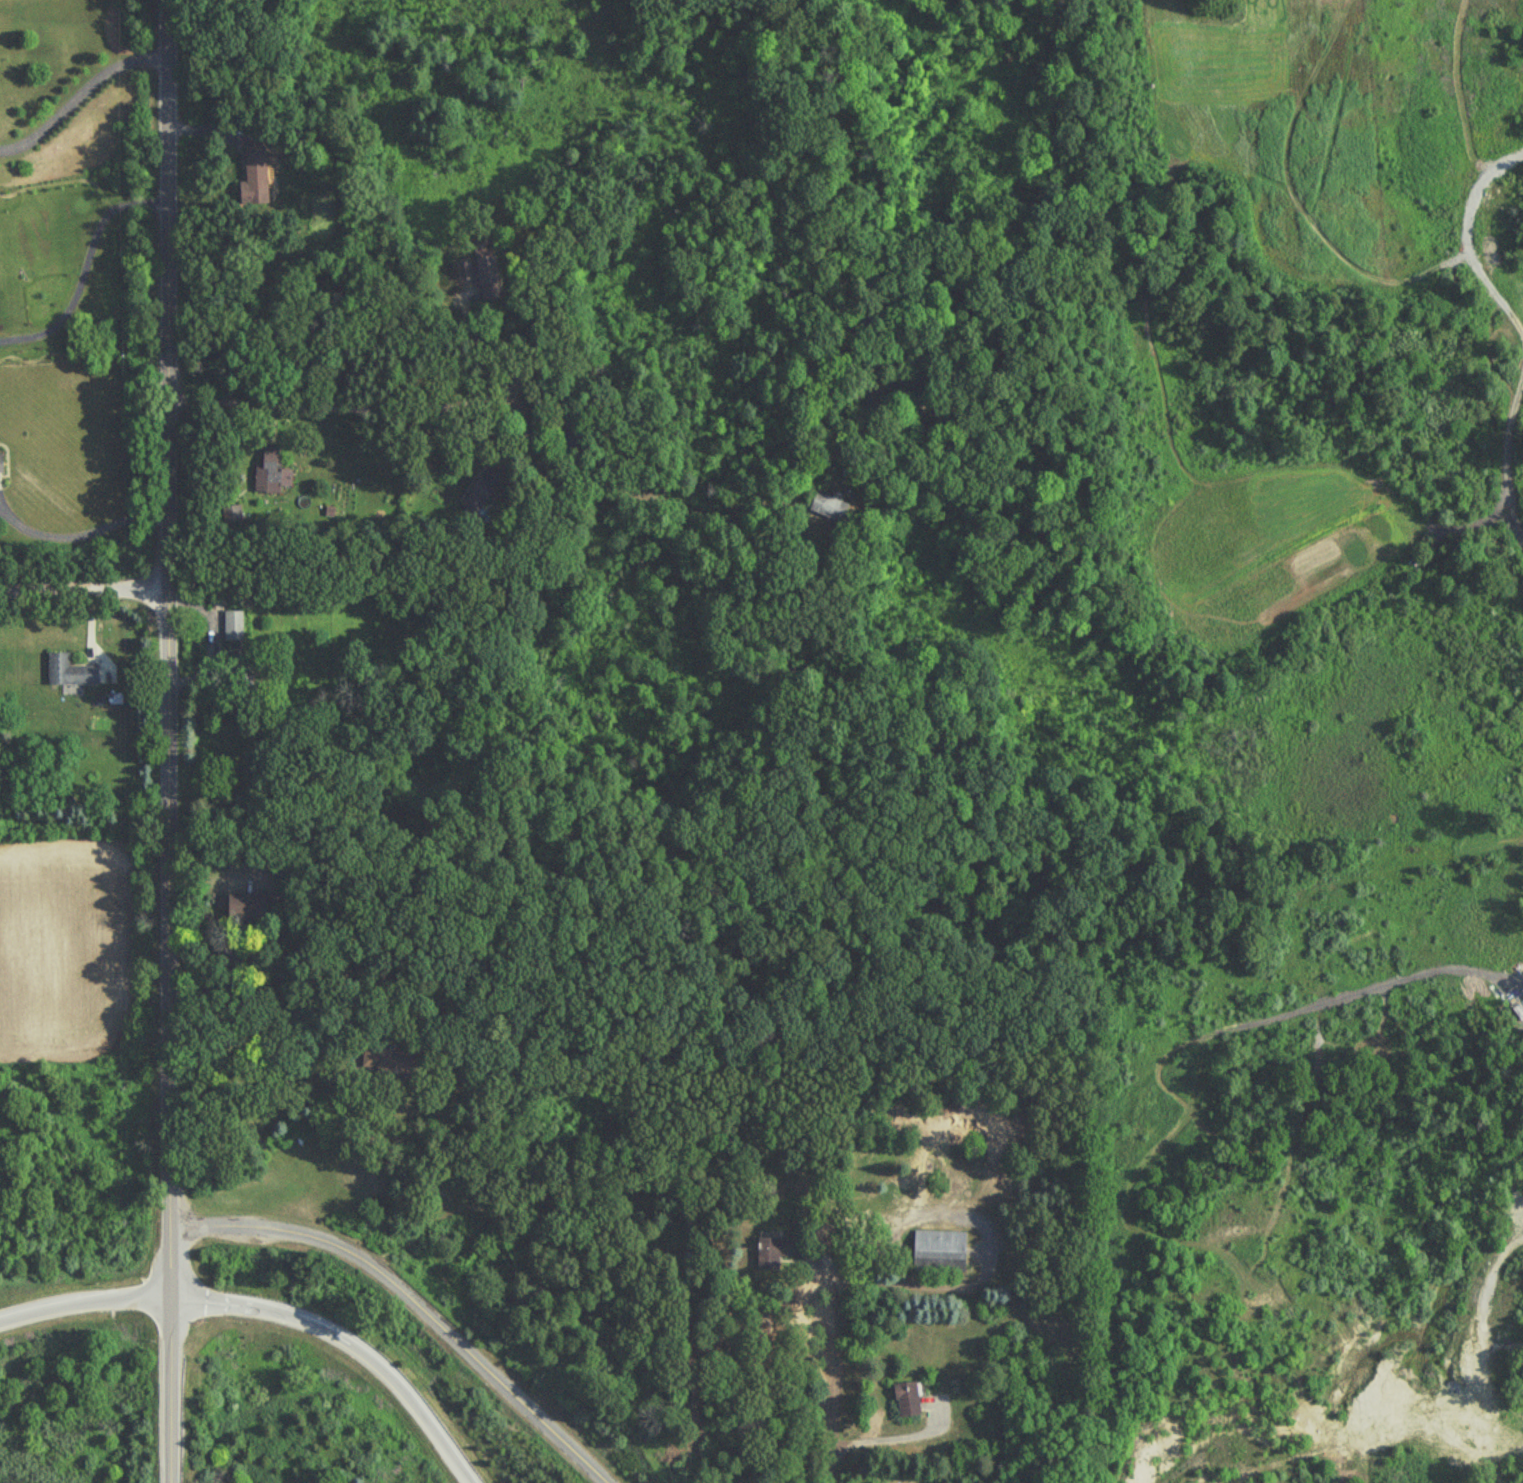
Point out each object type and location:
road: (236, 25)
road: (76, 89)
road: (206, 121)
crop: (1273, 121)
building: (254, 176)
road: (1463, 235)
road: (85, 265)
building: (485, 278)
building: (905, 373)
road: (390, 407)
road: (269, 417)
road: (1501, 450)
building: (0, 464)
building: (272, 471)
building: (482, 488)
road: (686, 500)
building: (825, 507)
building: (232, 517)
road: (80, 532)
road: (81, 590)
building: (232, 626)
road: (164, 648)
building: (69, 672)
building: (244, 910)
crop: (61, 955)
building: (386, 1061)
building: (774, 1250)
building: (938, 1250)
road: (414, 1300)
road: (83, 1303)
road: (234, 1303)
road: (835, 1368)
road: (399, 1385)
road: (168, 1390)
building: (906, 1399)
road: (893, 1435)

